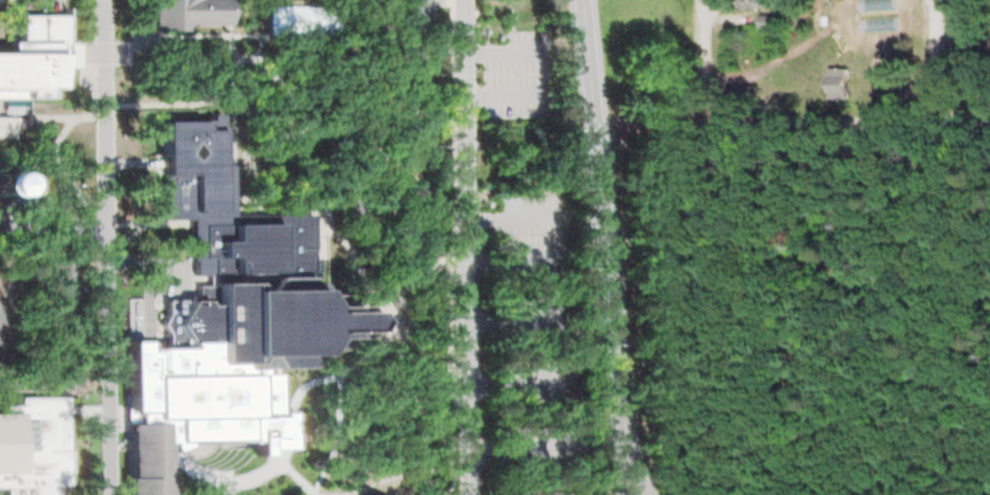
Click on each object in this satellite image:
building: (752, 4)
road: (12, 6)
building: (180, 12)
building: (414, 17)
building: (306, 18)
building: (765, 22)
road: (239, 34)
building: (32, 51)
road: (786, 54)
road: (705, 58)
road: (932, 59)
road: (537, 71)
parking lot: (515, 72)
building: (409, 82)
building: (836, 83)
road: (288, 88)
building: (740, 95)
road: (191, 104)
road: (105, 111)
road: (66, 117)
building: (635, 119)
road: (960, 119)
road: (823, 125)
road: (340, 127)
building: (415, 144)
road: (591, 144)
road: (38, 167)
road: (66, 170)
road: (505, 218)
road: (785, 221)
road: (52, 222)
parking lot: (531, 222)
road: (333, 223)
road: (450, 247)
road: (463, 247)
road: (603, 247)
road: (14, 263)
building: (61, 275)
building: (230, 308)
parking lot: (526, 313)
park: (807, 313)
road: (499, 315)
building: (63, 323)
building: (1, 327)
building: (144, 333)
road: (413, 357)
road: (108, 359)
road: (352, 363)
building: (66, 367)
road: (505, 384)
parking lot: (535, 386)
road: (292, 403)
building: (33, 447)
road: (505, 447)
parking lot: (536, 449)
building: (144, 460)
road: (268, 465)
road: (199, 475)
road: (388, 478)
building: (427, 487)

